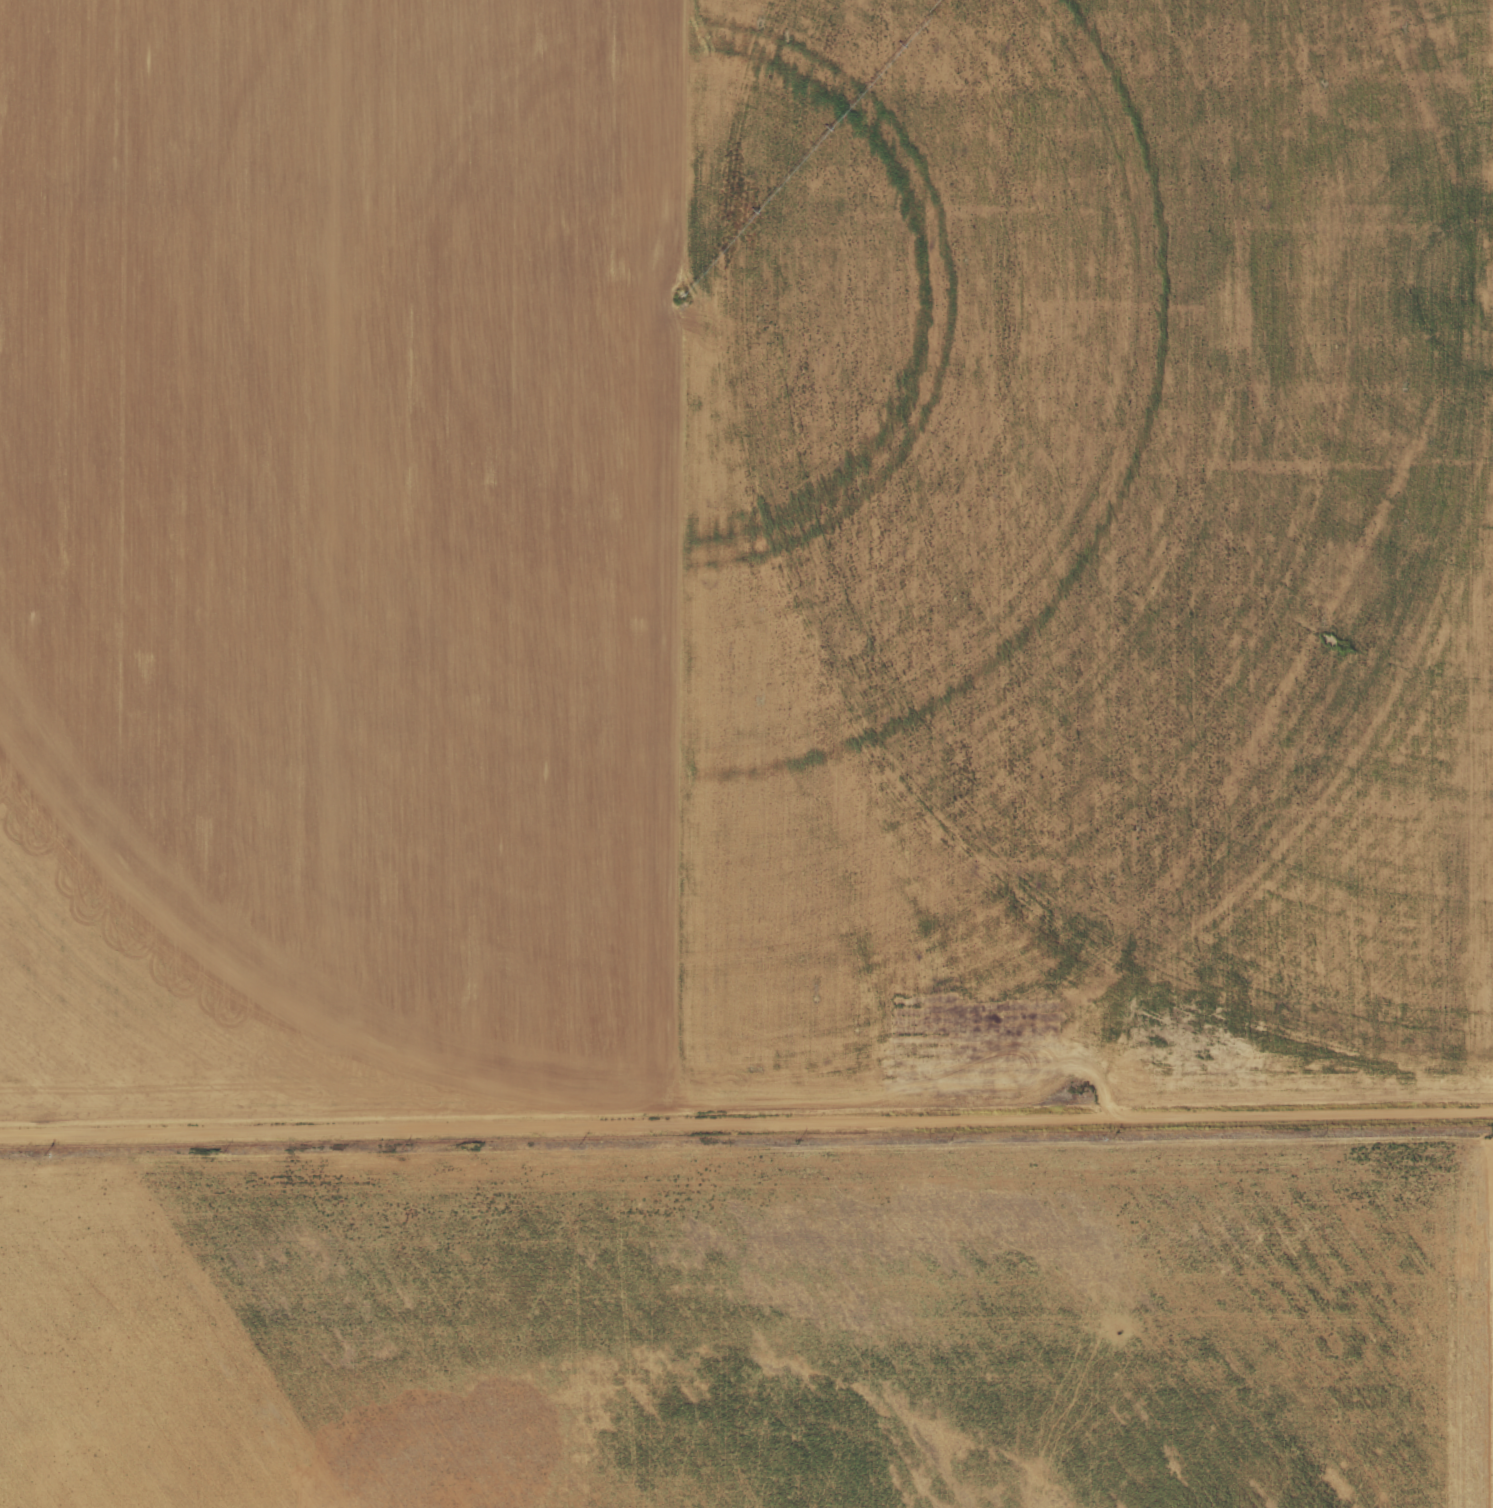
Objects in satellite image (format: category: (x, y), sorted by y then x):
road: (746, 1126)

